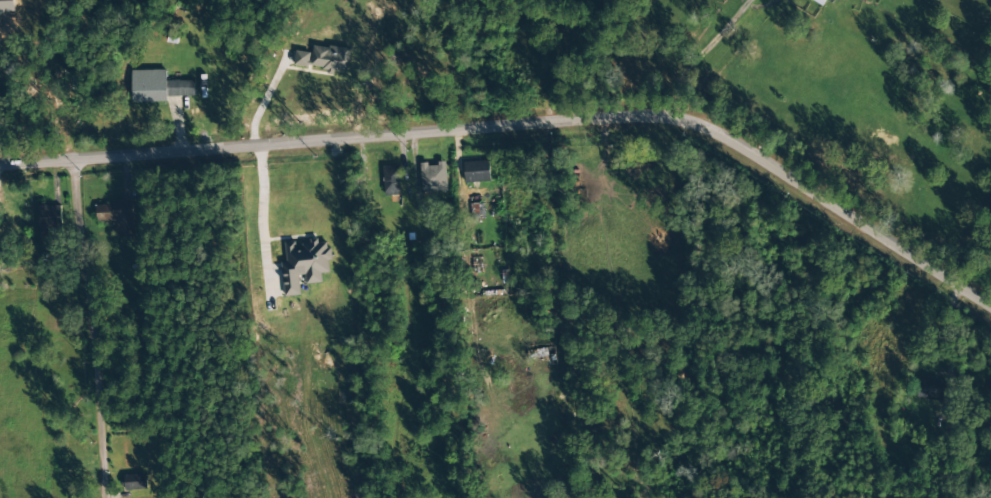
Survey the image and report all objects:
building: (819, 2)
building: (7, 6)
building: (323, 58)
building: (159, 87)
road: (522, 123)
building: (475, 172)
building: (433, 177)
building: (391, 180)
building: (117, 216)
building: (48, 219)
building: (303, 264)
road: (90, 326)
building: (930, 389)
building: (134, 482)

